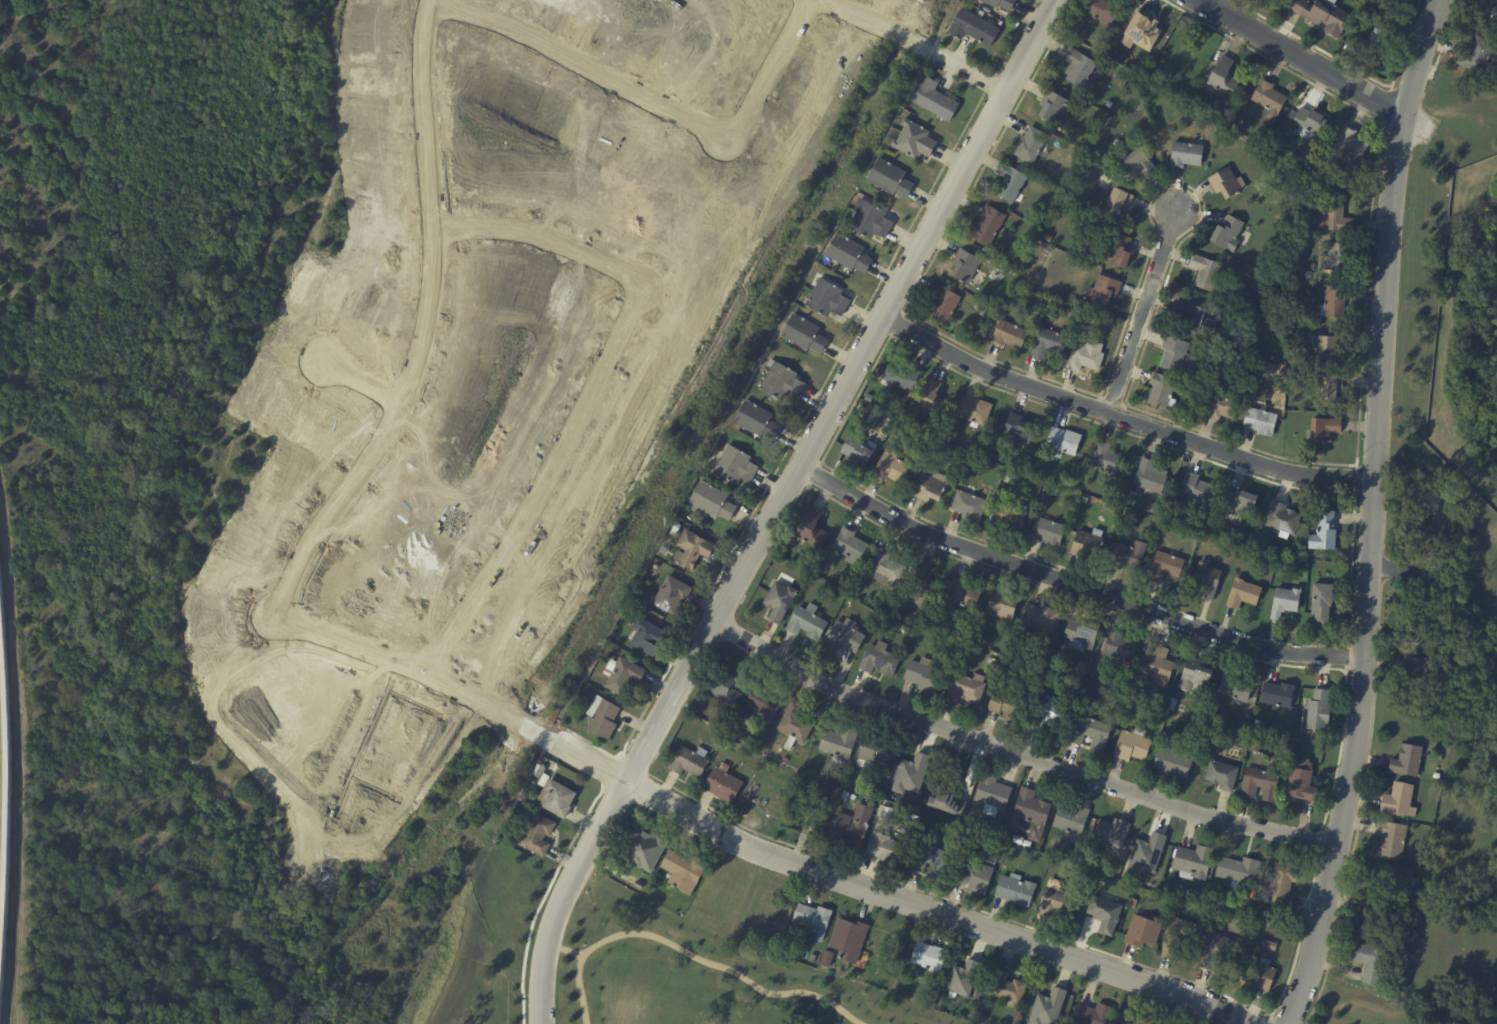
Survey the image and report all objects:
building: (1397, 0)
building: (1003, 3)
road: (1238, 3)
road: (1230, 7)
road: (1211, 8)
building: (1105, 11)
building: (1373, 12)
building: (1491, 12)
building: (1319, 14)
road: (1235, 22)
building: (975, 27)
building: (1140, 31)
road: (1013, 37)
building: (1377, 39)
building: (1105, 40)
road: (918, 45)
building: (1473, 55)
road: (581, 59)
road: (1313, 65)
road: (1352, 68)
road: (767, 69)
building: (1082, 70)
building: (1225, 76)
building: (909, 80)
road: (987, 83)
building: (936, 99)
building: (1270, 101)
building: (1110, 104)
road: (1385, 105)
building: (1208, 107)
building: (1054, 108)
building: (1314, 120)
building: (912, 139)
building: (1353, 144)
building: (1032, 145)
building: (1187, 154)
building: (1139, 164)
building: (891, 178)
building: (1013, 183)
building: (1229, 183)
building: (1119, 203)
building: (1337, 218)
building: (872, 221)
building: (991, 225)
road: (541, 233)
building: (1229, 233)
building: (1304, 240)
building: (1118, 251)
building: (849, 253)
building: (1339, 258)
building: (965, 265)
building: (1208, 272)
building: (980, 274)
building: (1106, 290)
building: (1303, 293)
road: (1159, 294)
building: (829, 299)
building: (1267, 302)
building: (1335, 302)
building: (944, 305)
building: (1253, 308)
building: (983, 312)
road: (1140, 312)
building: (1075, 314)
building: (1195, 318)
building: (1094, 320)
road: (422, 323)
road: (885, 333)
building: (805, 334)
building: (1011, 335)
building: (1051, 343)
building: (1328, 348)
building: (1174, 355)
building: (1088, 356)
building: (1280, 359)
road: (942, 364)
building: (902, 377)
road: (362, 382)
building: (783, 382)
building: (1335, 388)
building: (1163, 390)
building: (1193, 391)
building: (934, 399)
road: (1111, 400)
building: (1222, 407)
building: (976, 411)
road: (1119, 417)
building: (757, 420)
building: (1261, 421)
building: (886, 422)
building: (1019, 429)
building: (1329, 430)
building: (1063, 443)
building: (861, 452)
road: (783, 453)
building: (1108, 459)
building: (737, 466)
building: (892, 467)
road: (813, 474)
building: (1151, 477)
building: (1010, 478)
road: (1353, 478)
road: (543, 480)
building: (930, 487)
building: (1198, 490)
building: (1085, 500)
building: (713, 502)
road: (777, 505)
building: (1244, 505)
building: (970, 506)
building: (1157, 510)
road: (1371, 513)
building: (1011, 516)
building: (1283, 520)
building: (1167, 528)
building: (813, 529)
building: (677, 530)
building: (1049, 530)
building: (1325, 533)
building: (1202, 543)
building: (851, 546)
building: (1088, 546)
building: (694, 549)
building: (665, 551)
building: (1128, 556)
building: (1168, 566)
building: (886, 569)
road: (1398, 570)
building: (1209, 580)
road: (1074, 584)
building: (922, 588)
building: (1244, 594)
building: (673, 595)
building: (964, 595)
building: (835, 596)
building: (638, 598)
building: (780, 602)
building: (1286, 602)
building: (1323, 604)
building: (1005, 607)
road: (1109, 610)
building: (871, 617)
building: (1044, 620)
building: (917, 622)
building: (809, 623)
building: (927, 625)
building: (903, 629)
building: (1416, 630)
building: (1083, 635)
building: (648, 637)
building: (844, 638)
building: (1436, 639)
building: (965, 647)
building: (1122, 649)
building: (1016, 657)
road: (1344, 658)
building: (880, 660)
building: (994, 663)
building: (1159, 667)
building: (990, 671)
building: (1418, 673)
building: (622, 675)
building: (924, 676)
building: (1197, 678)
building: (596, 680)
building: (731, 687)
building: (1237, 687)
building: (966, 689)
building: (1443, 692)
building: (1133, 693)
building: (1280, 696)
building: (765, 702)
building: (1171, 704)
building: (1007, 707)
building: (1448, 708)
building: (1320, 712)
building: (1050, 713)
building: (602, 717)
building: (696, 720)
building: (796, 725)
building: (1257, 726)
building: (1207, 730)
building: (733, 731)
building: (1092, 735)
building: (733, 741)
building: (841, 743)
building: (1266, 744)
building: (1135, 745)
building: (1258, 747)
road: (1015, 753)
building: (1439, 755)
building: (876, 756)
building: (1405, 760)
building: (691, 762)
road: (633, 765)
building: (1175, 765)
building: (540, 772)
road: (609, 773)
building: (911, 774)
building: (1436, 776)
building: (1222, 777)
building: (841, 779)
building: (1305, 783)
building: (725, 785)
building: (1261, 785)
building: (994, 796)
building: (845, 797)
building: (832, 798)
building: (854, 798)
building: (558, 800)
building: (1397, 800)
building: (1031, 814)
building: (1429, 816)
building: (913, 818)
building: (1073, 822)
building: (853, 829)
building: (1113, 834)
building: (539, 836)
building: (1389, 838)
road: (1318, 839)
building: (1019, 842)
building: (1028, 845)
road: (745, 847)
building: (646, 849)
building: (888, 850)
building: (1146, 852)
building: (934, 862)
building: (1194, 864)
building: (1238, 872)
building: (684, 873)
building: (976, 877)
building: (1392, 879)
building: (1284, 884)
building: (1017, 891)
building: (1190, 895)
road: (541, 900)
building: (1057, 903)
building: (1105, 913)
building: (815, 921)
building: (1368, 921)
road: (1037, 929)
building: (1145, 932)
building: (1180, 938)
building: (850, 941)
building: (1269, 945)
road: (564, 949)
building: (1216, 951)
building: (1257, 951)
road: (689, 955)
building: (931, 958)
park: (607, 959)
building: (828, 960)
building: (1368, 961)
building: (1401, 964)
building: (1258, 976)
building: (962, 978)
building: (1008, 989)
park: (1359, 1006)
building: (1047, 1007)
building: (1093, 1015)
building: (1135, 1019)
road: (1268, 1019)

